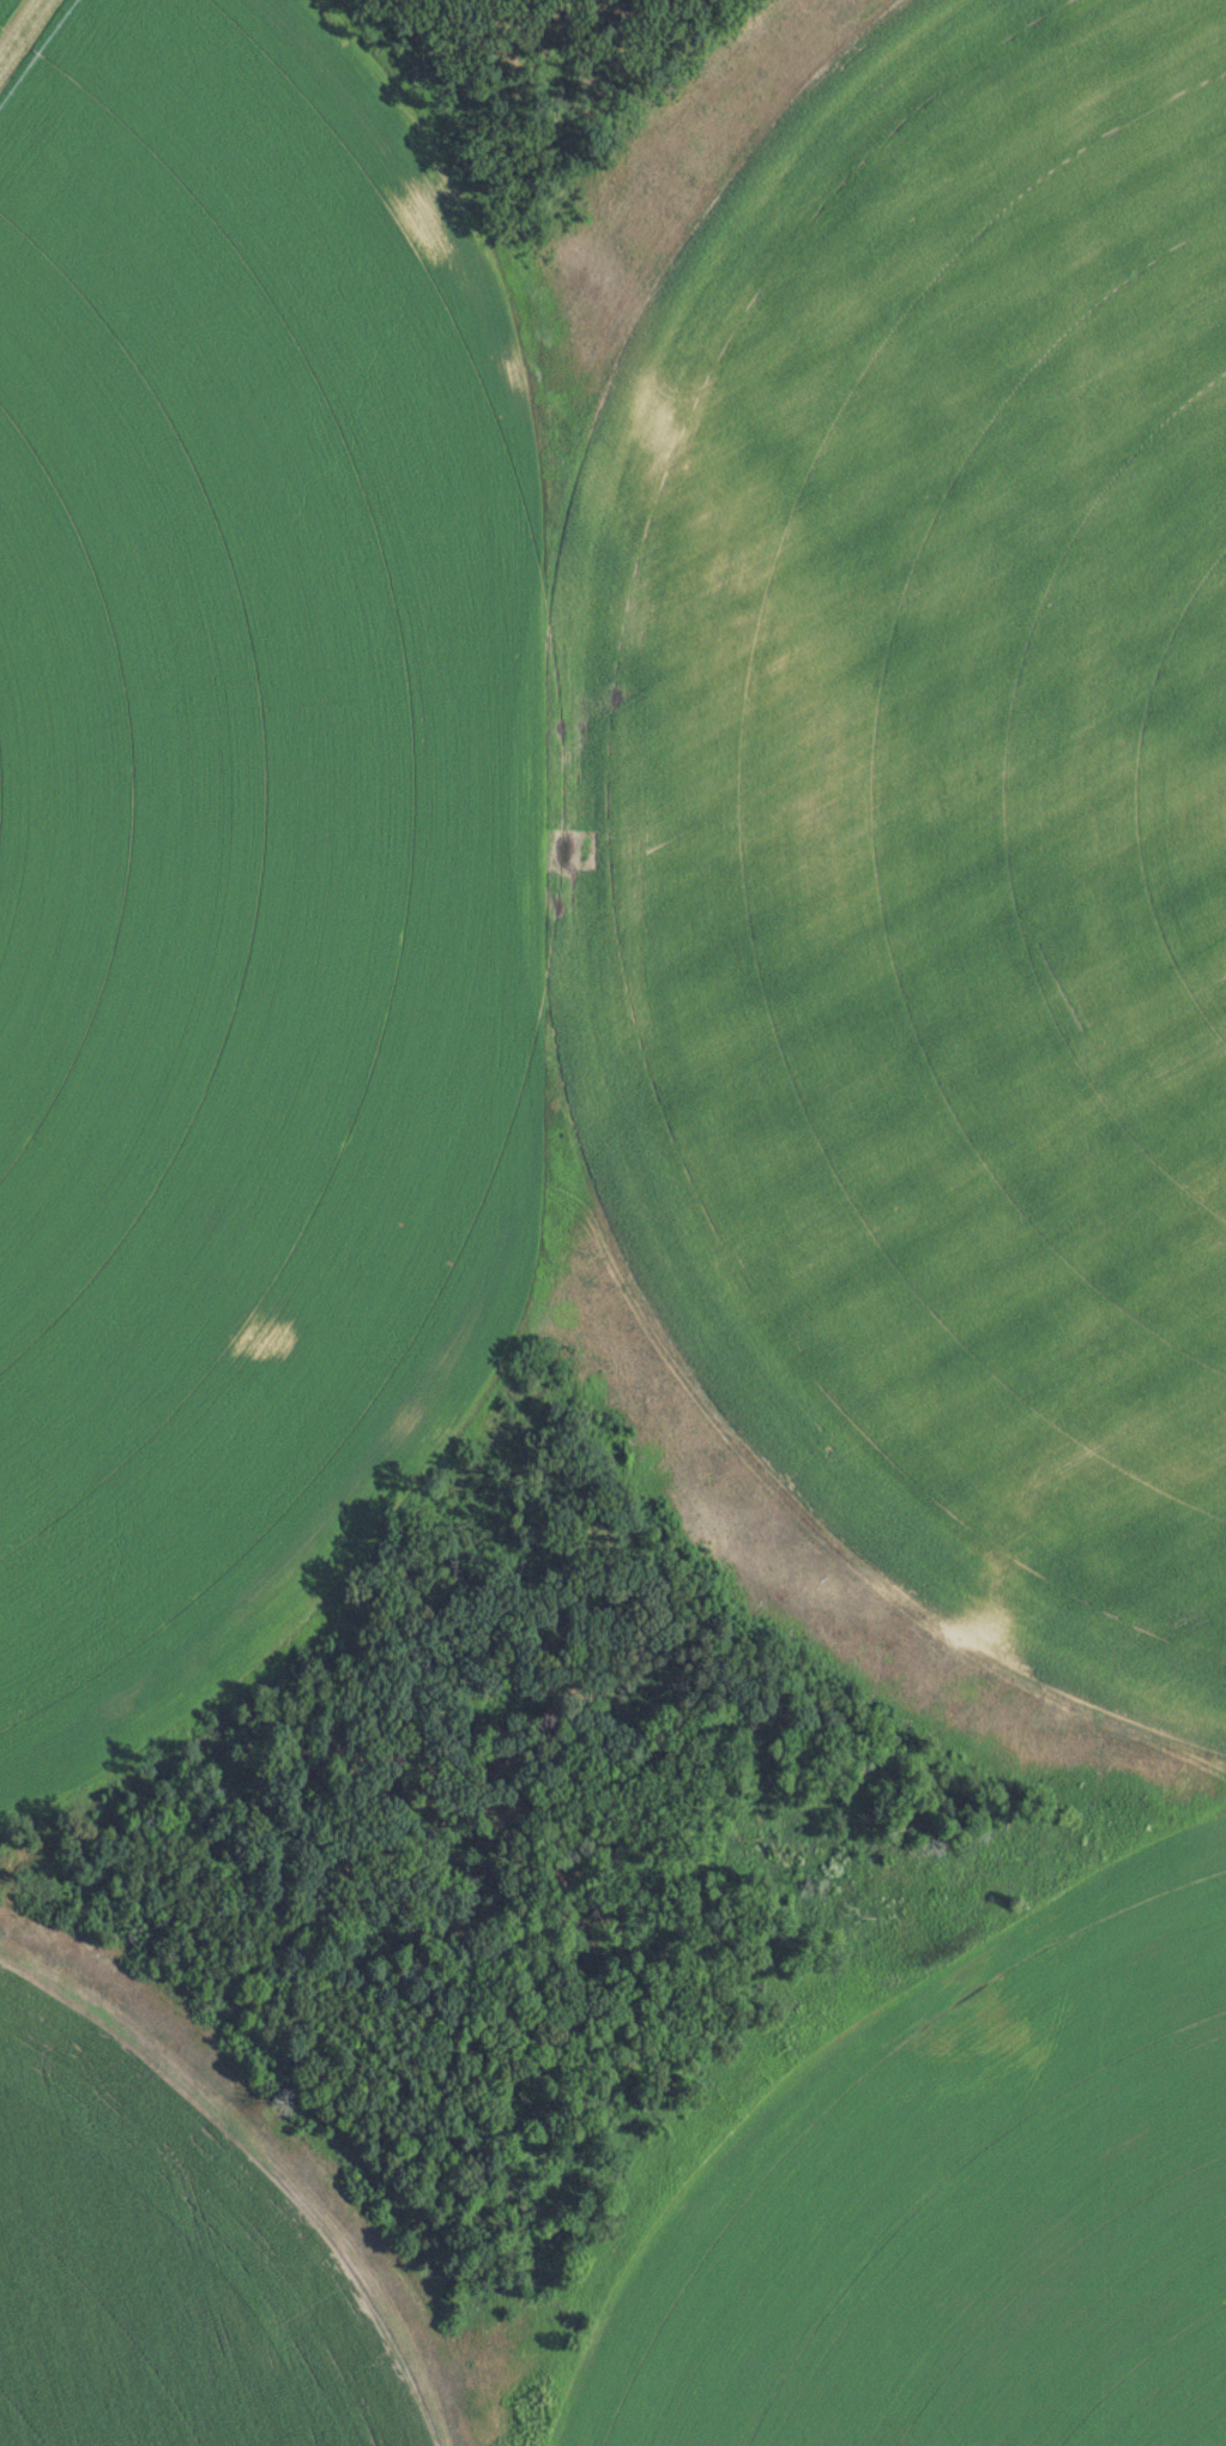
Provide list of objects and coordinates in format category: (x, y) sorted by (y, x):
wastewater plant: (612, 1223)

